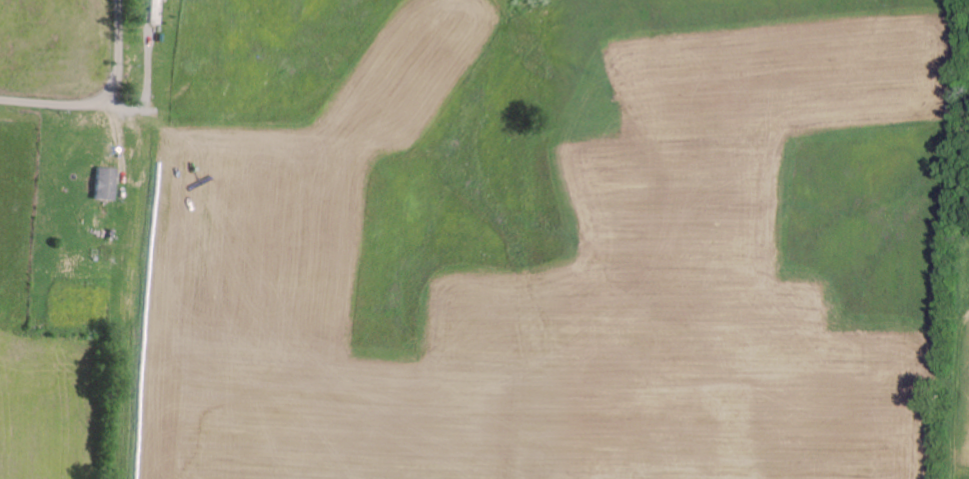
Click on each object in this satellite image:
road: (100, 97)
building: (103, 182)

